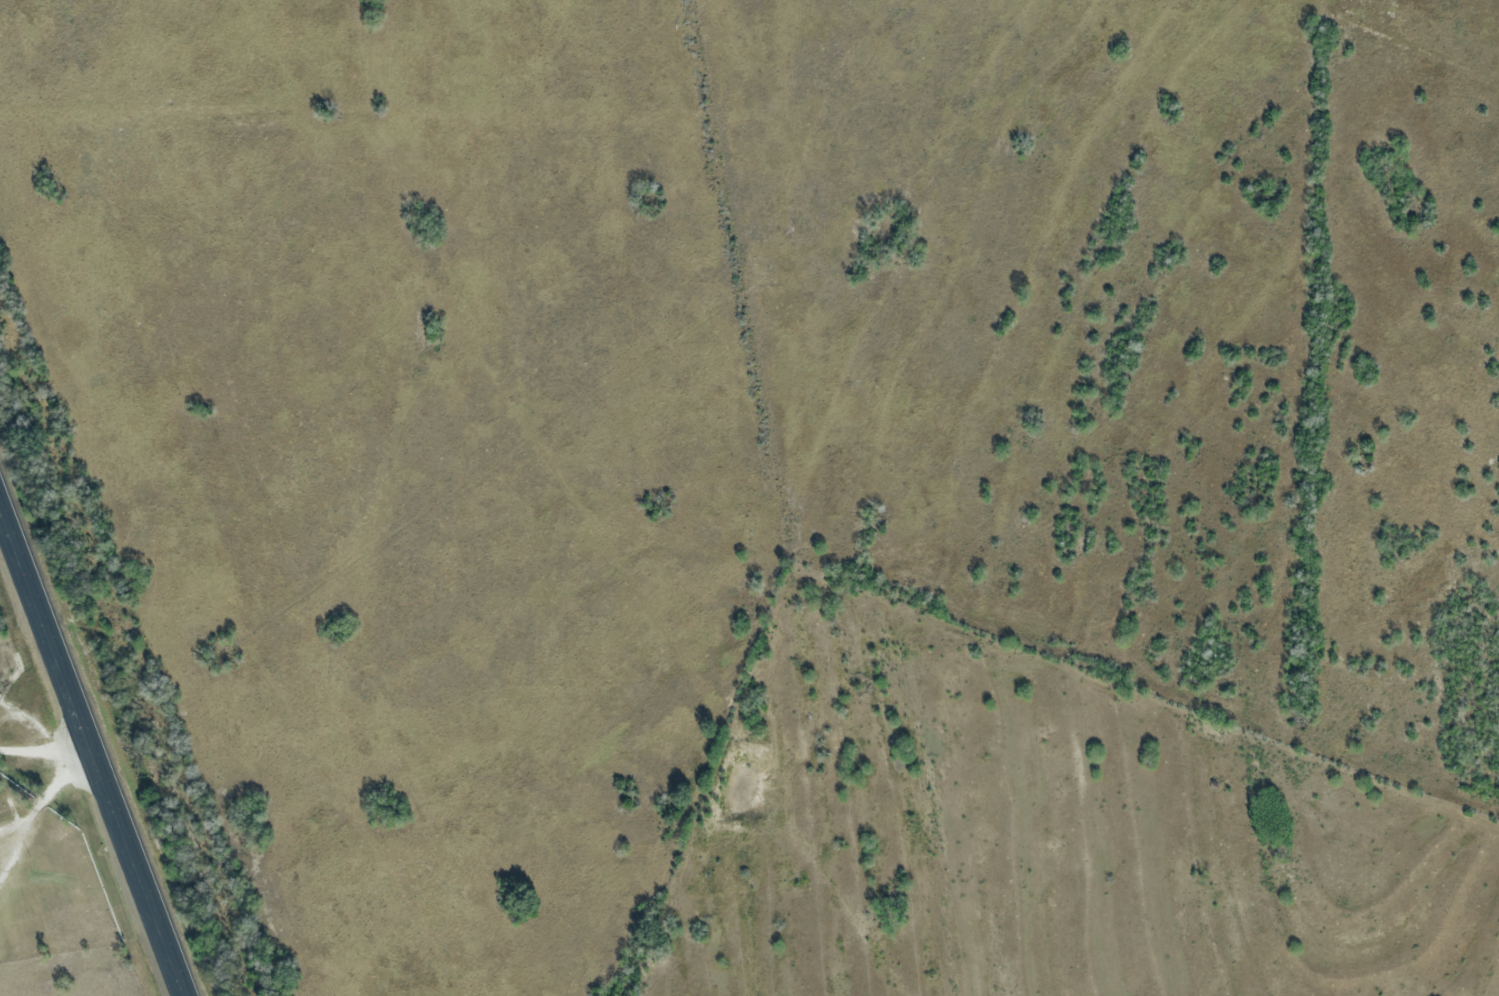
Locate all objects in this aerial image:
road: (44, 731)
road: (46, 749)
road: (92, 751)

